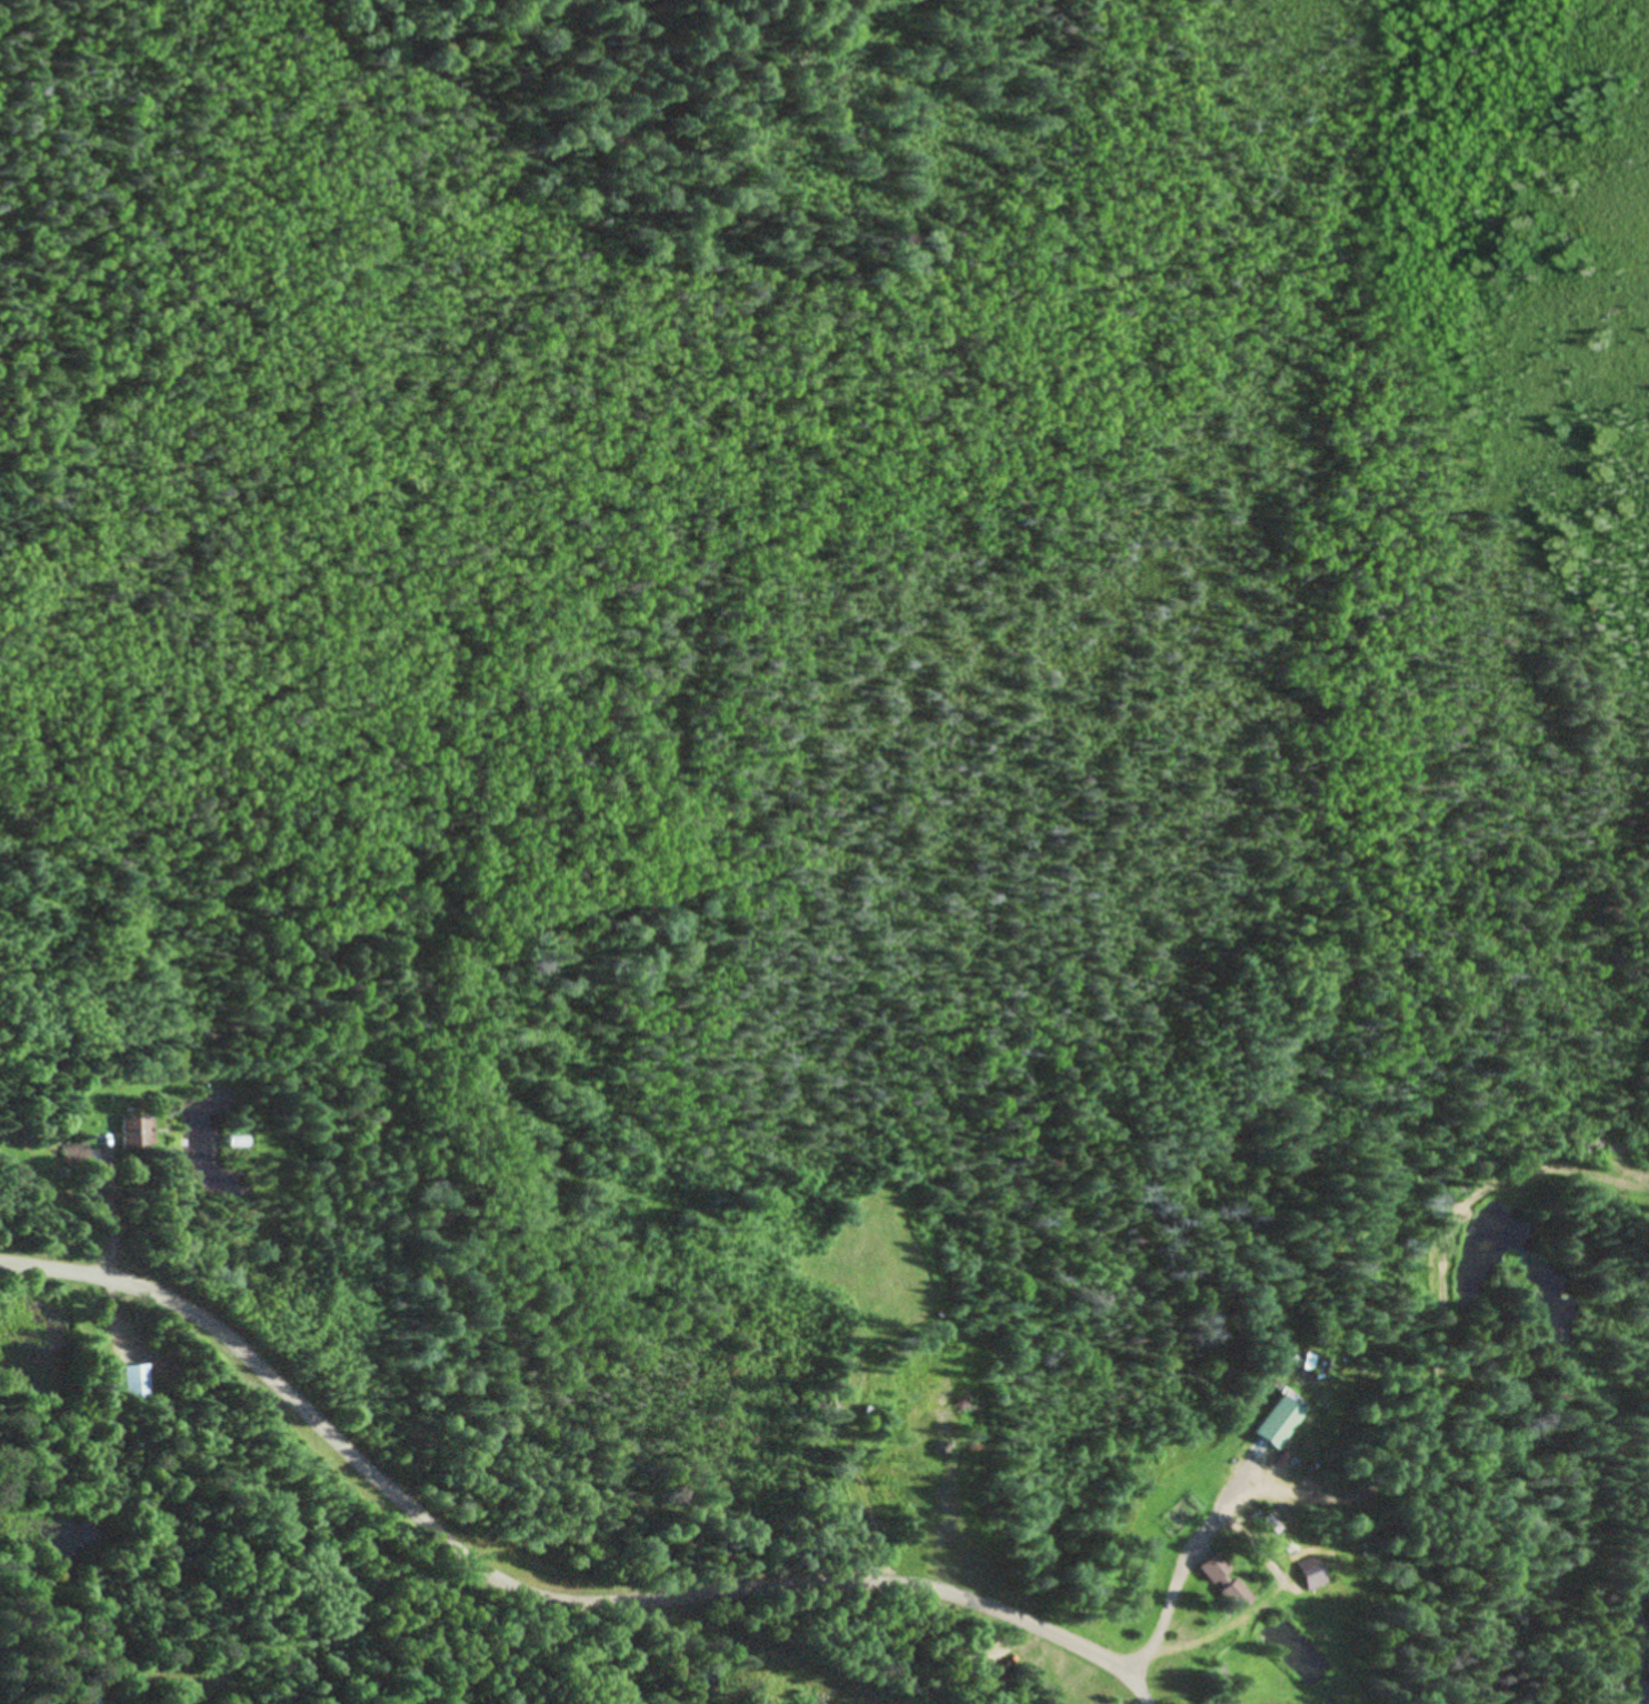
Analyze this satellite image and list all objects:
building: (141, 1133)
building: (86, 1154)
building: (140, 1381)
building: (1281, 1421)
building: (1313, 1568)
building: (1229, 1583)
road: (536, 1595)
building: (94, 1691)

